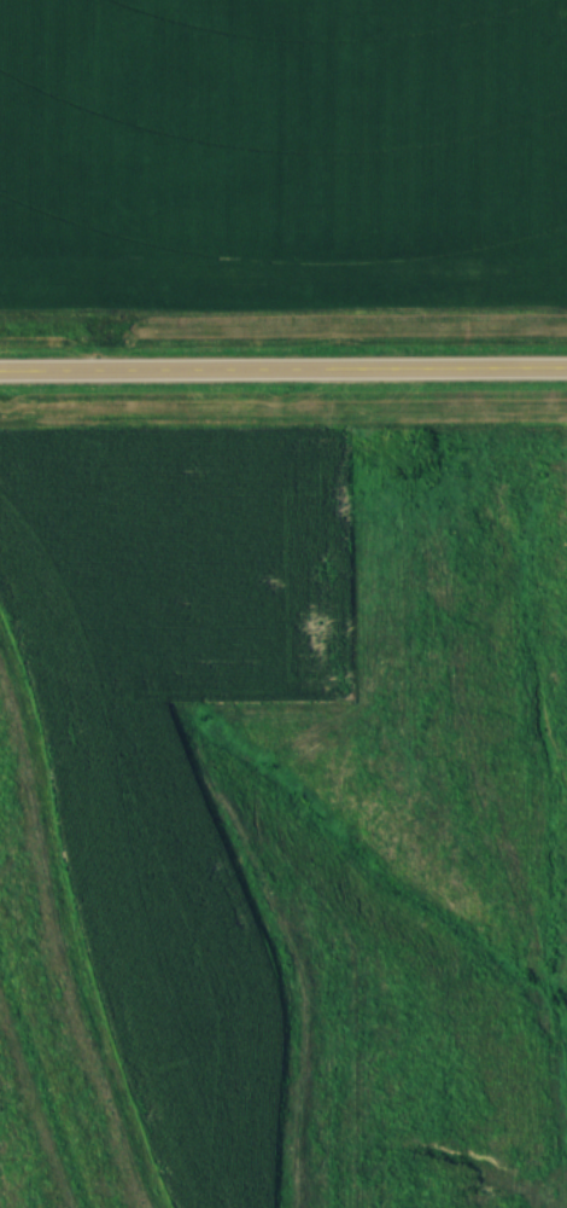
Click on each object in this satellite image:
road: (283, 378)

